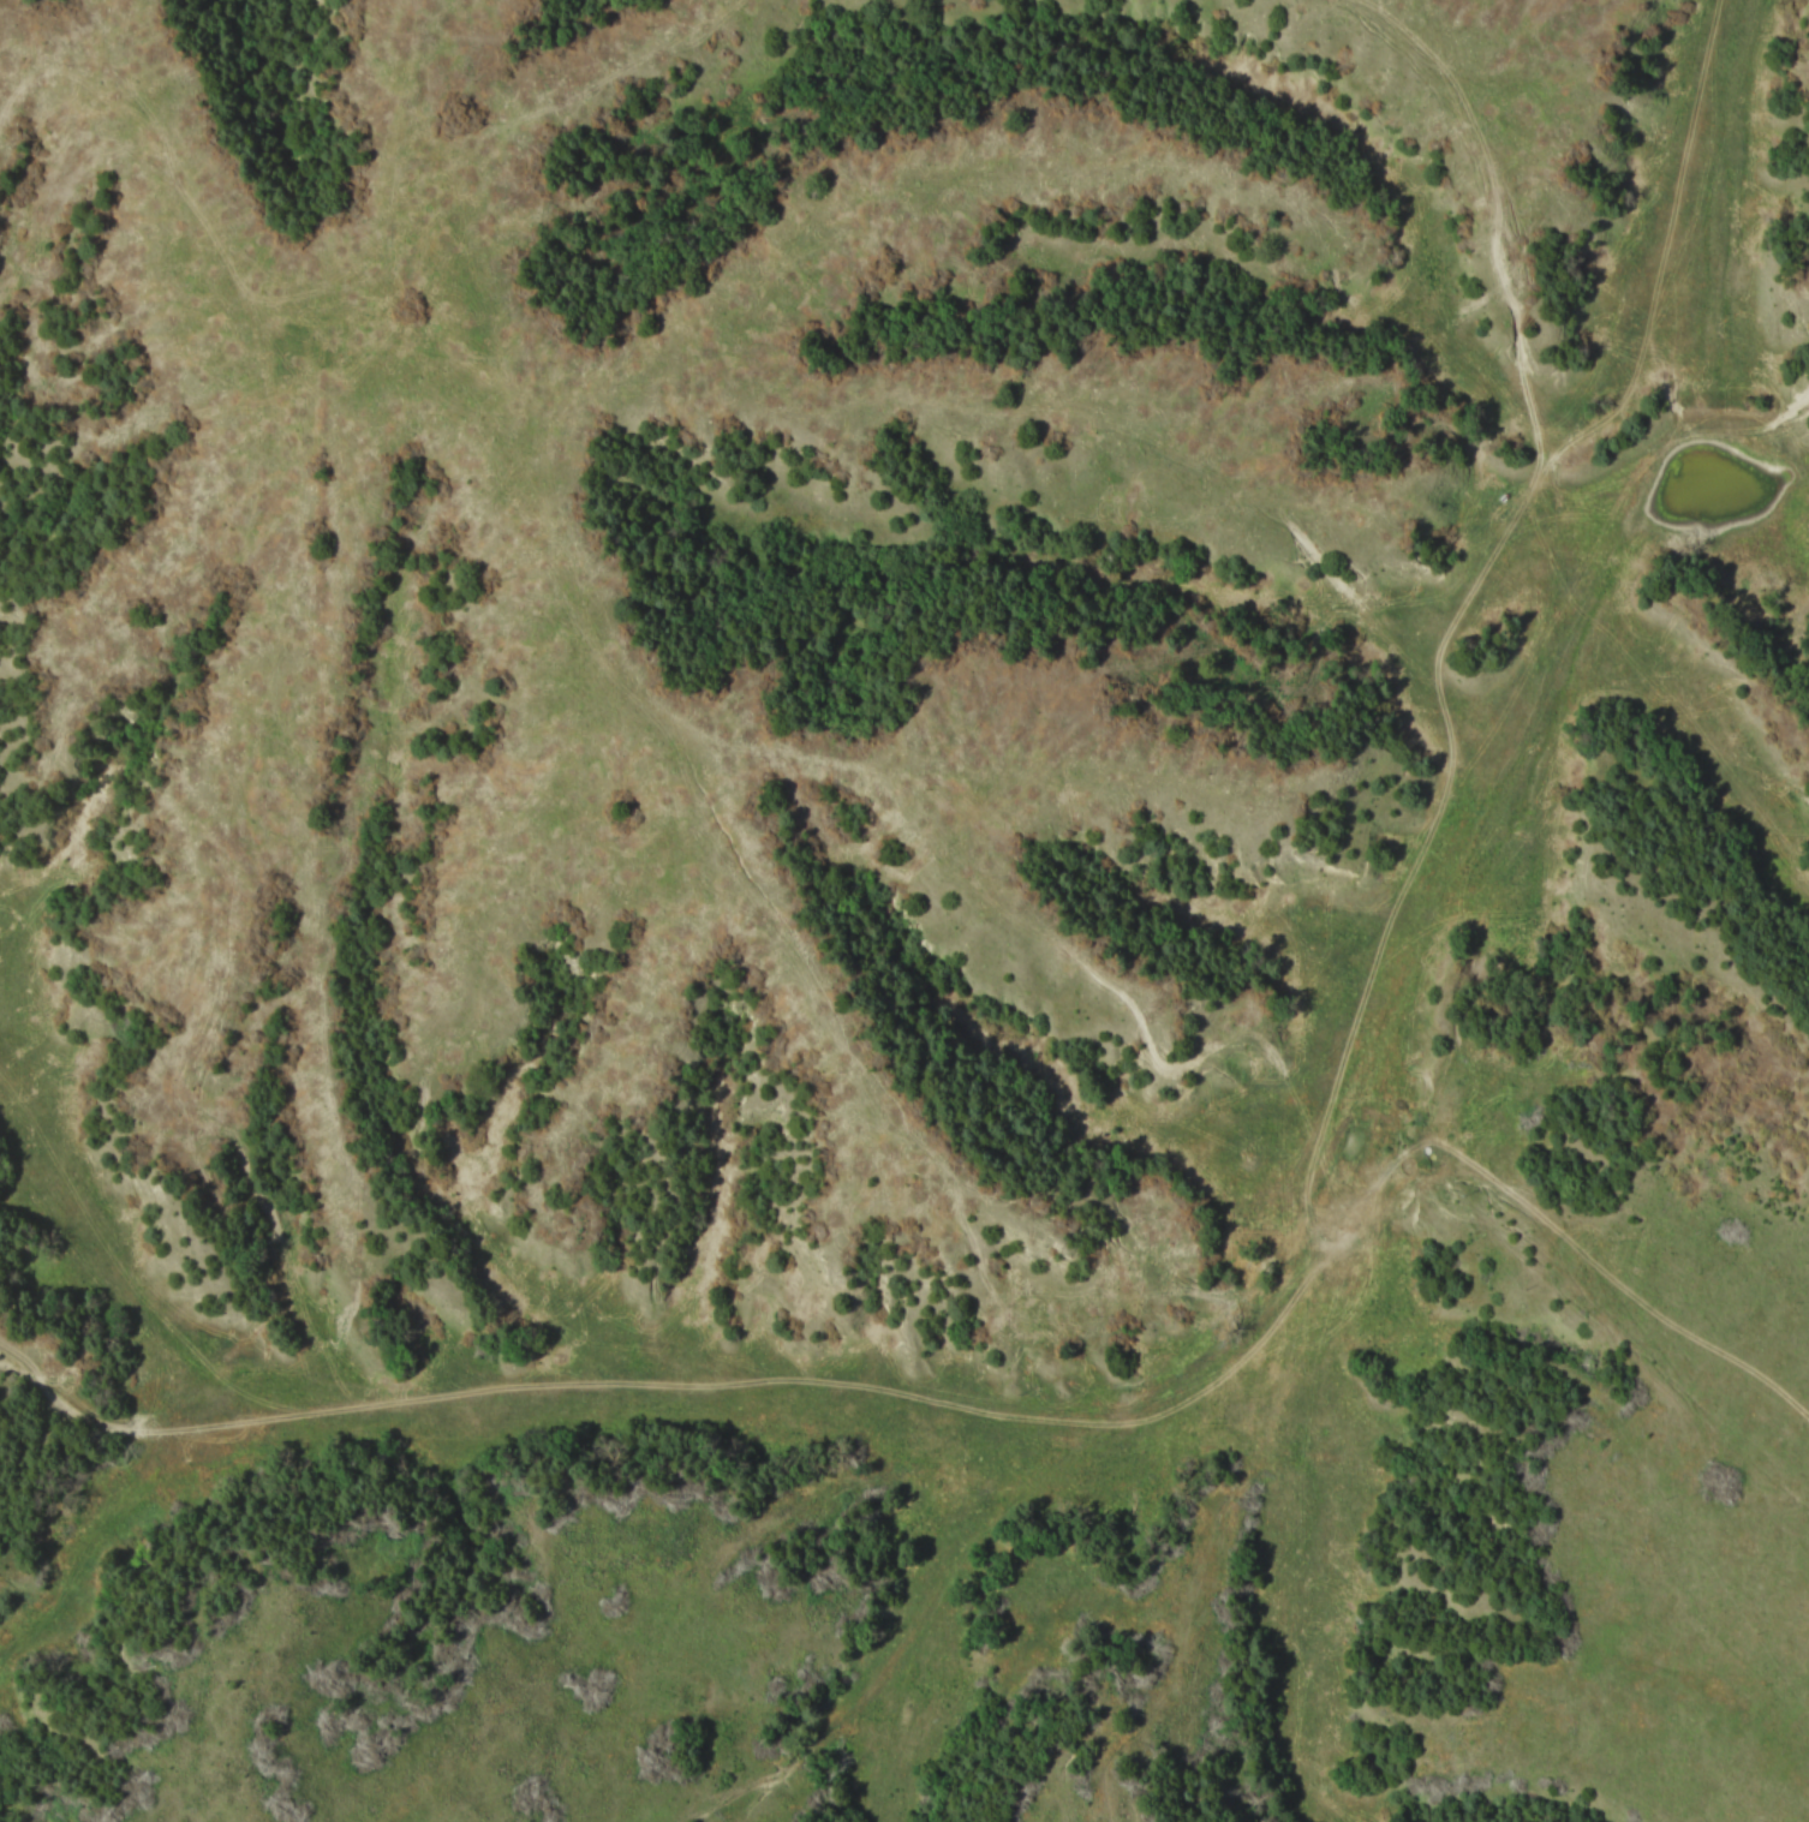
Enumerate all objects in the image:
road: (1652, 1291)

